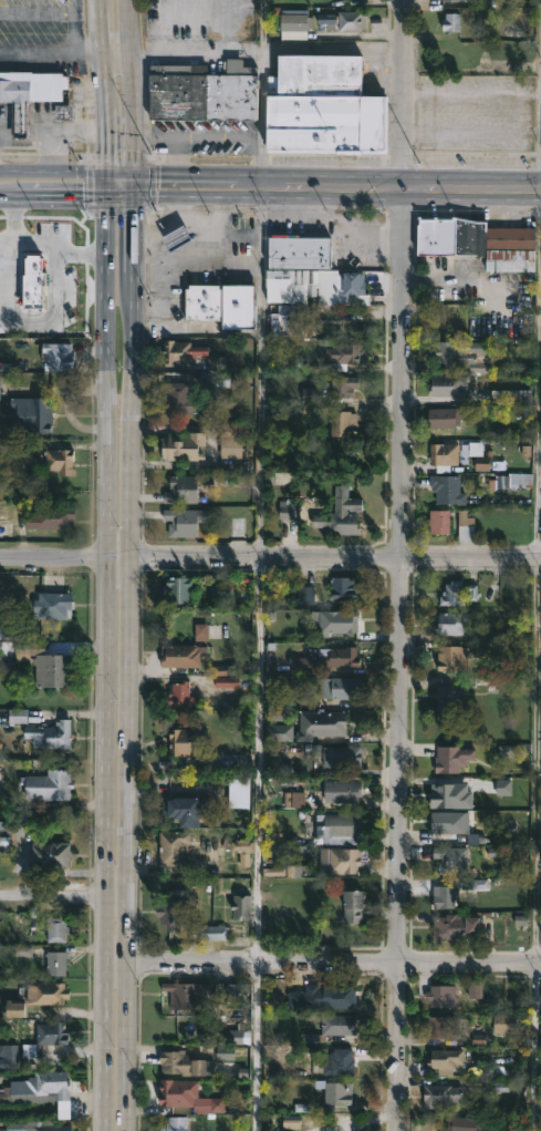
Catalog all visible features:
building: (447, 0)
building: (344, 20)
building: (293, 22)
road: (73, 25)
road: (262, 27)
road: (195, 51)
road: (51, 52)
road: (116, 52)
road: (103, 86)
building: (204, 91)
building: (27, 95)
road: (131, 97)
building: (325, 105)
road: (53, 128)
road: (24, 130)
road: (216, 140)
road: (179, 162)
traffic signals: (105, 175)
traffic signals: (133, 175)
road: (52, 176)
road: (137, 176)
road: (196, 184)
road: (382, 185)
road: (152, 189)
traffic signals: (105, 196)
traffic signals: (134, 196)
road: (66, 197)
road: (46, 238)
building: (178, 238)
building: (478, 241)
building: (300, 253)
building: (40, 275)
building: (292, 289)
building: (222, 305)
road: (23, 320)
building: (444, 321)
building: (290, 325)
building: (176, 351)
building: (344, 352)
building: (461, 354)
building: (58, 356)
building: (344, 385)
building: (449, 385)
building: (181, 397)
building: (31, 414)
building: (443, 418)
building: (344, 422)
building: (229, 444)
building: (184, 445)
building: (445, 453)
building: (477, 454)
building: (61, 461)
building: (181, 489)
building: (448, 490)
building: (341, 513)
building: (54, 520)
building: (439, 520)
building: (181, 522)
building: (466, 524)
road: (270, 555)
road: (399, 565)
road: (259, 575)
building: (179, 587)
building: (345, 587)
building: (458, 590)
building: (302, 594)
building: (53, 604)
road: (535, 613)
building: (335, 621)
building: (455, 623)
road: (104, 652)
building: (181, 655)
building: (343, 656)
building: (450, 656)
road: (131, 664)
building: (48, 665)
building: (339, 686)
building: (180, 693)
building: (446, 699)
building: (321, 722)
building: (279, 731)
building: (51, 734)
building: (187, 740)
building: (455, 755)
building: (342, 757)
building: (49, 784)
building: (343, 790)
building: (239, 794)
building: (188, 810)
building: (336, 825)
building: (452, 826)
building: (174, 847)
building: (52, 853)
building: (451, 858)
building: (340, 861)
road: (63, 896)
building: (445, 897)
building: (241, 905)
building: (354, 905)
building: (174, 908)
building: (56, 928)
building: (214, 932)
building: (445, 932)
road: (320, 964)
building: (58, 965)
building: (188, 994)
building: (322, 995)
building: (39, 996)
building: (443, 996)
building: (504, 1022)
building: (334, 1026)
building: (443, 1026)
building: (51, 1031)
road: (254, 1048)
building: (15, 1053)
building: (447, 1060)
building: (188, 1061)
building: (340, 1062)
building: (38, 1086)
building: (337, 1092)
building: (188, 1096)
building: (441, 1096)
building: (177, 1123)
building: (465, 1123)
building: (48, 1125)

